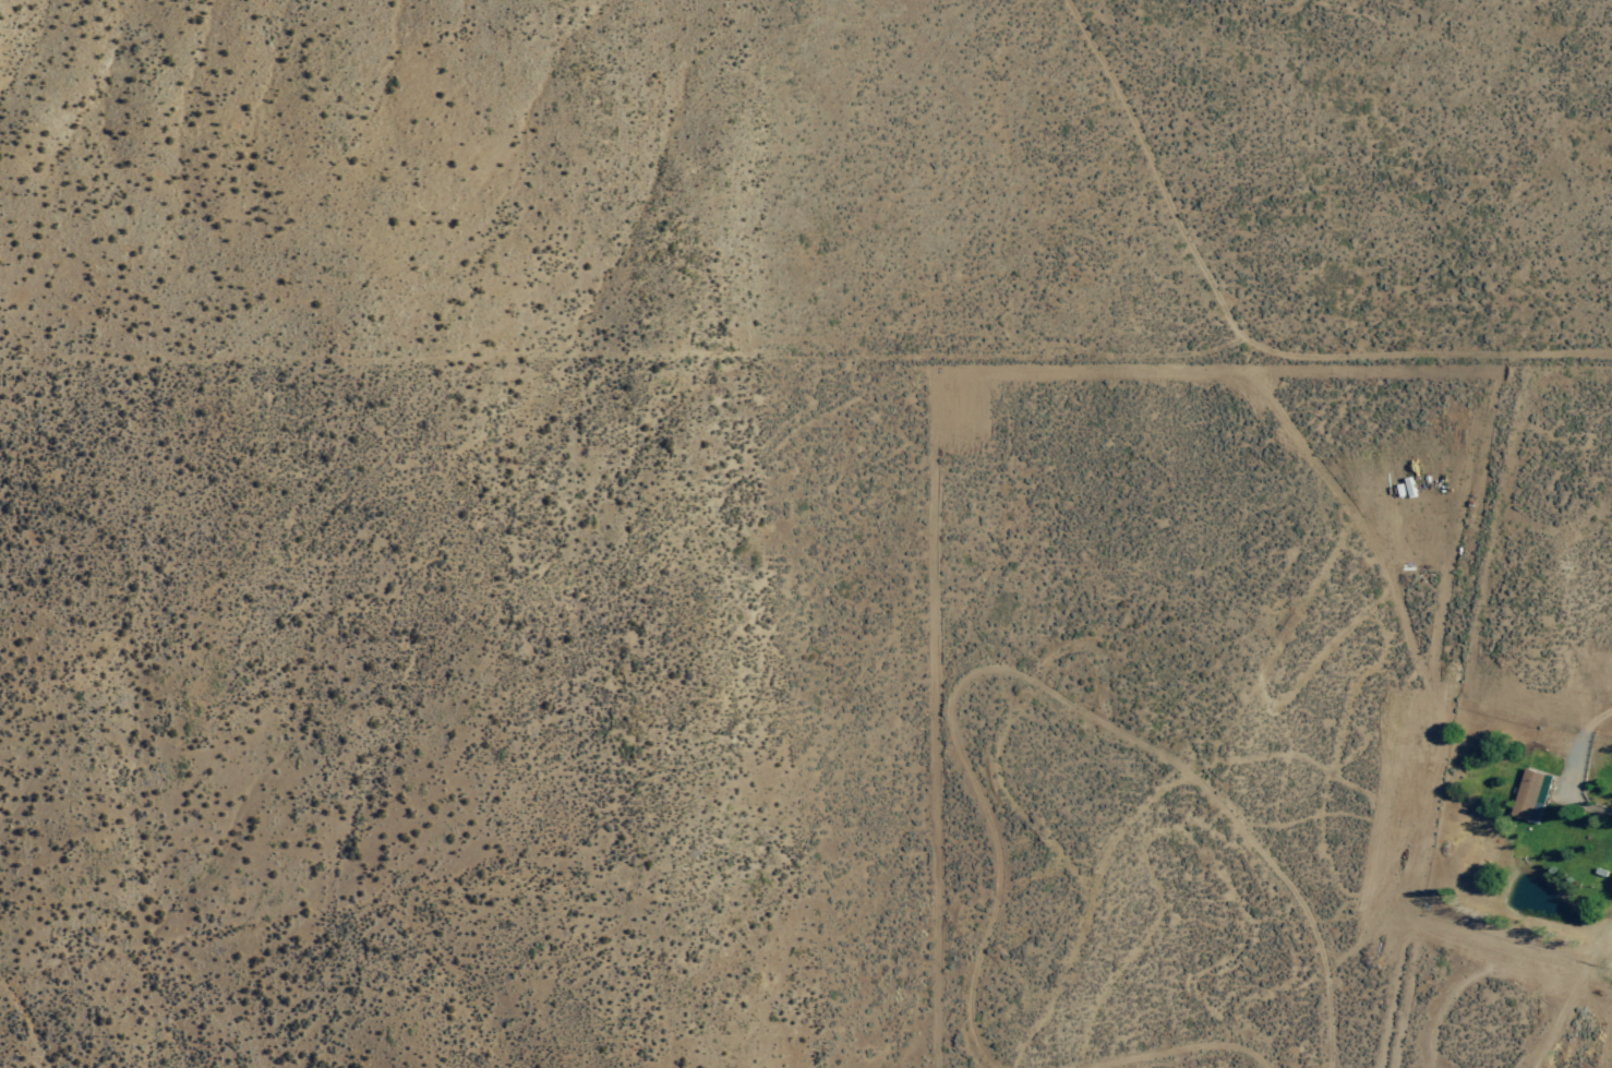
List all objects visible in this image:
road: (1592, 826)

